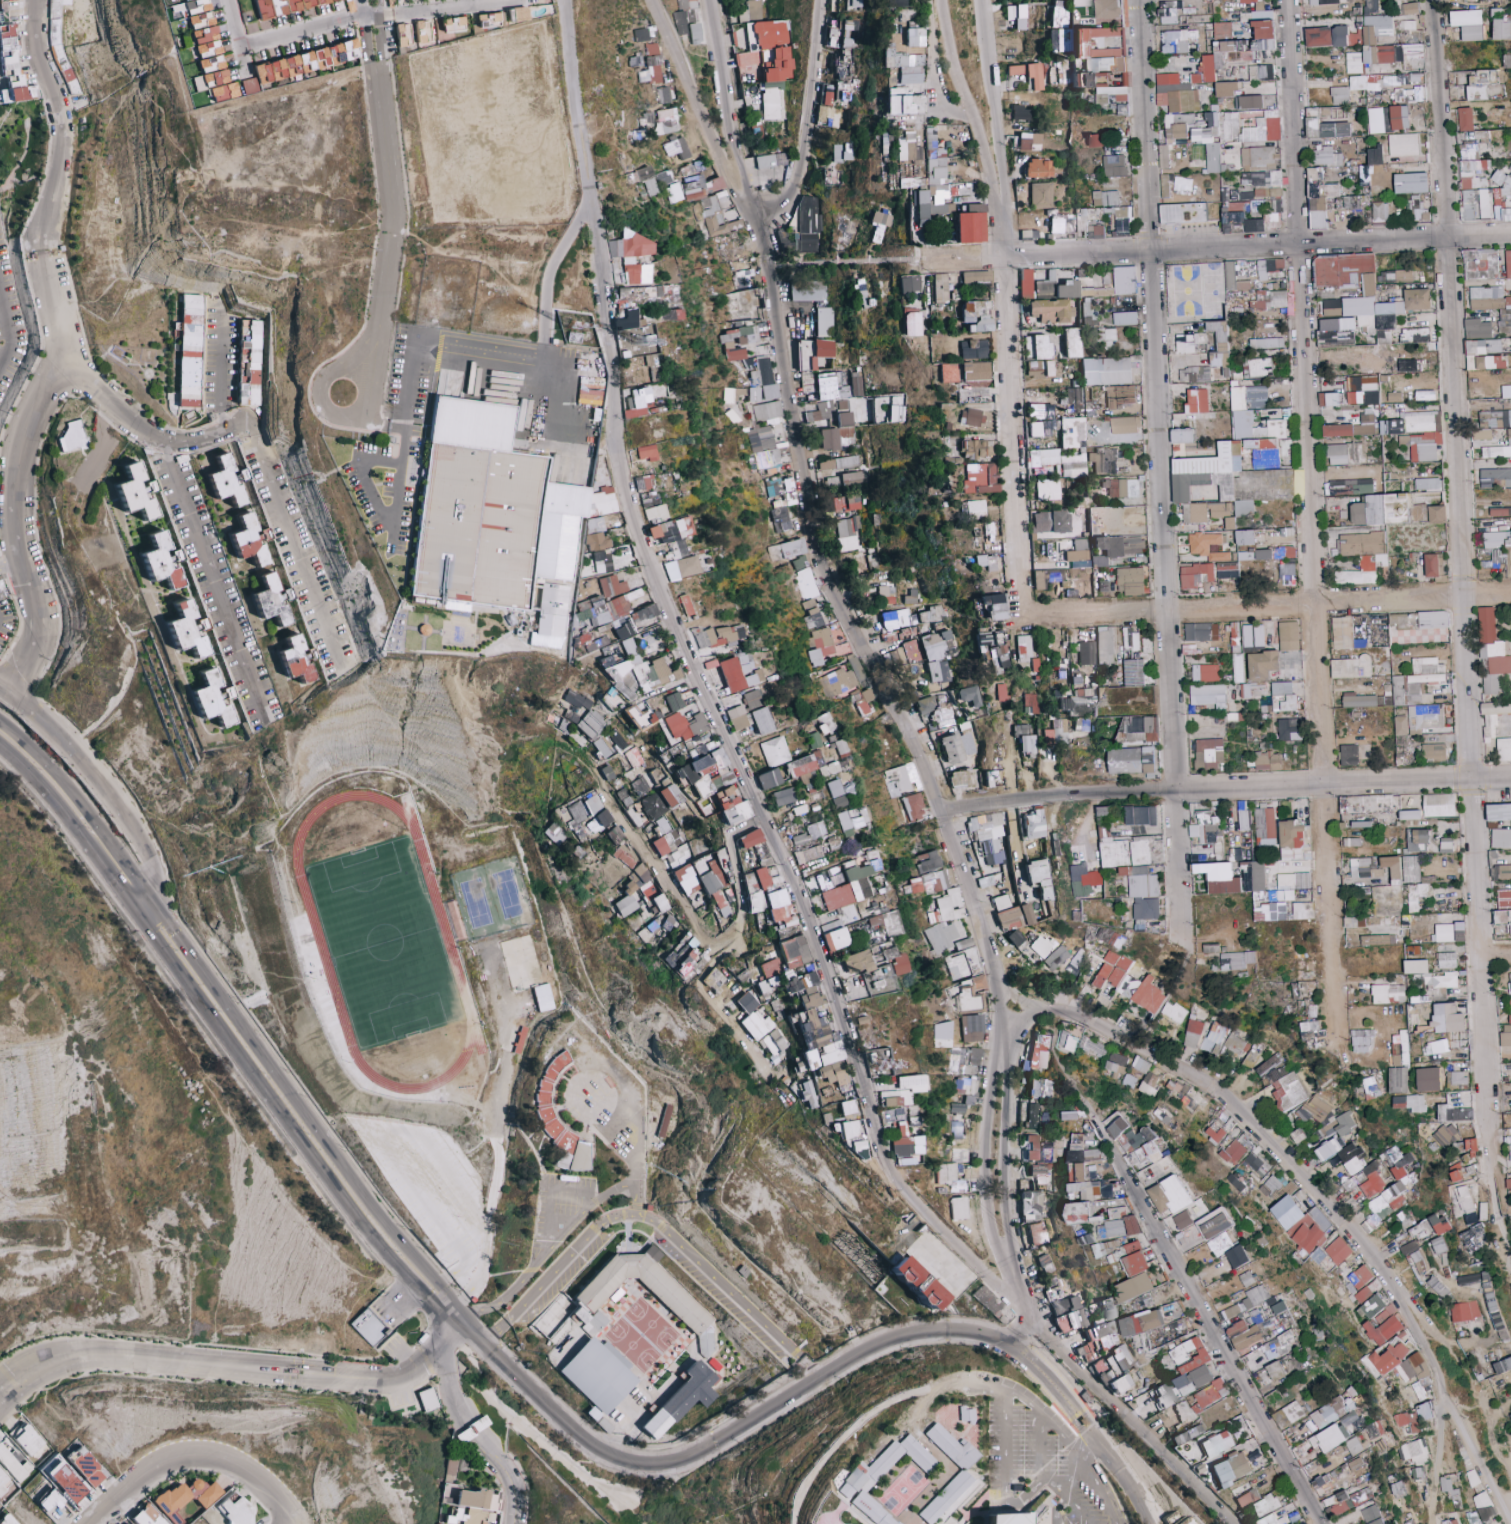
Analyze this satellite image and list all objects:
park: (487, 129)
park: (485, 900)
park: (381, 939)
parking lot: (1074, 1440)
parking lot: (1036, 1455)
park: (903, 1486)

